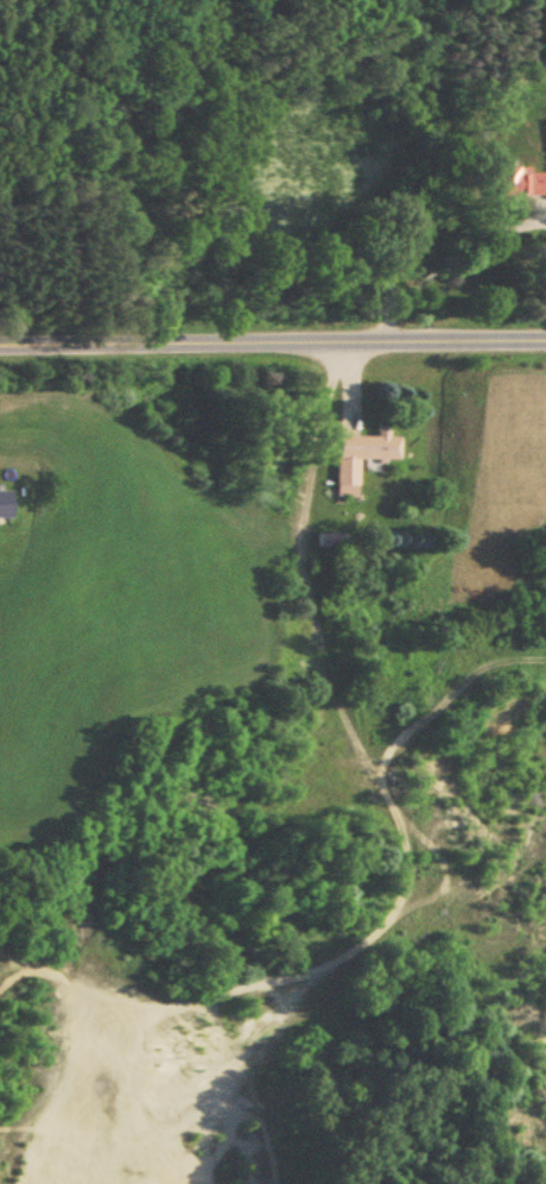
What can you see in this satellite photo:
building: (521, 182)
road: (438, 258)
road: (273, 340)
building: (362, 459)
building: (6, 505)
road: (303, 567)

